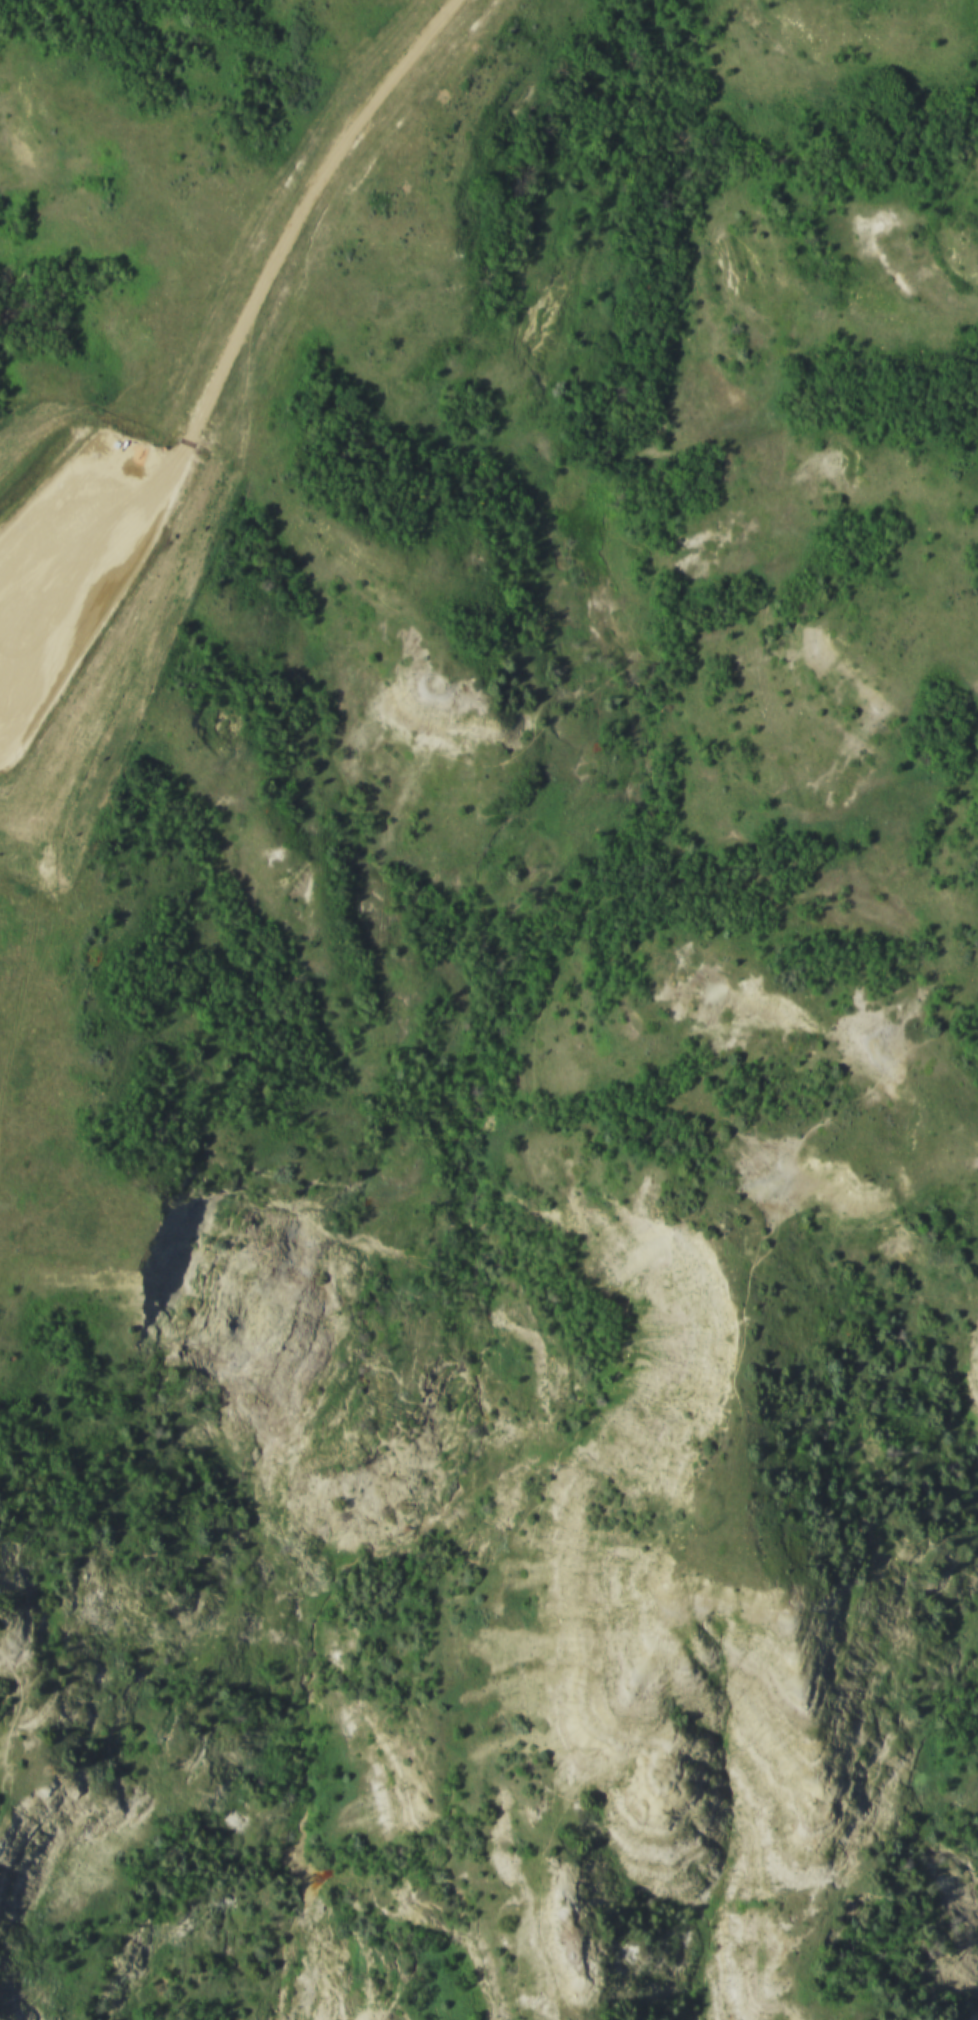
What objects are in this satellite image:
road: (230, 334)

